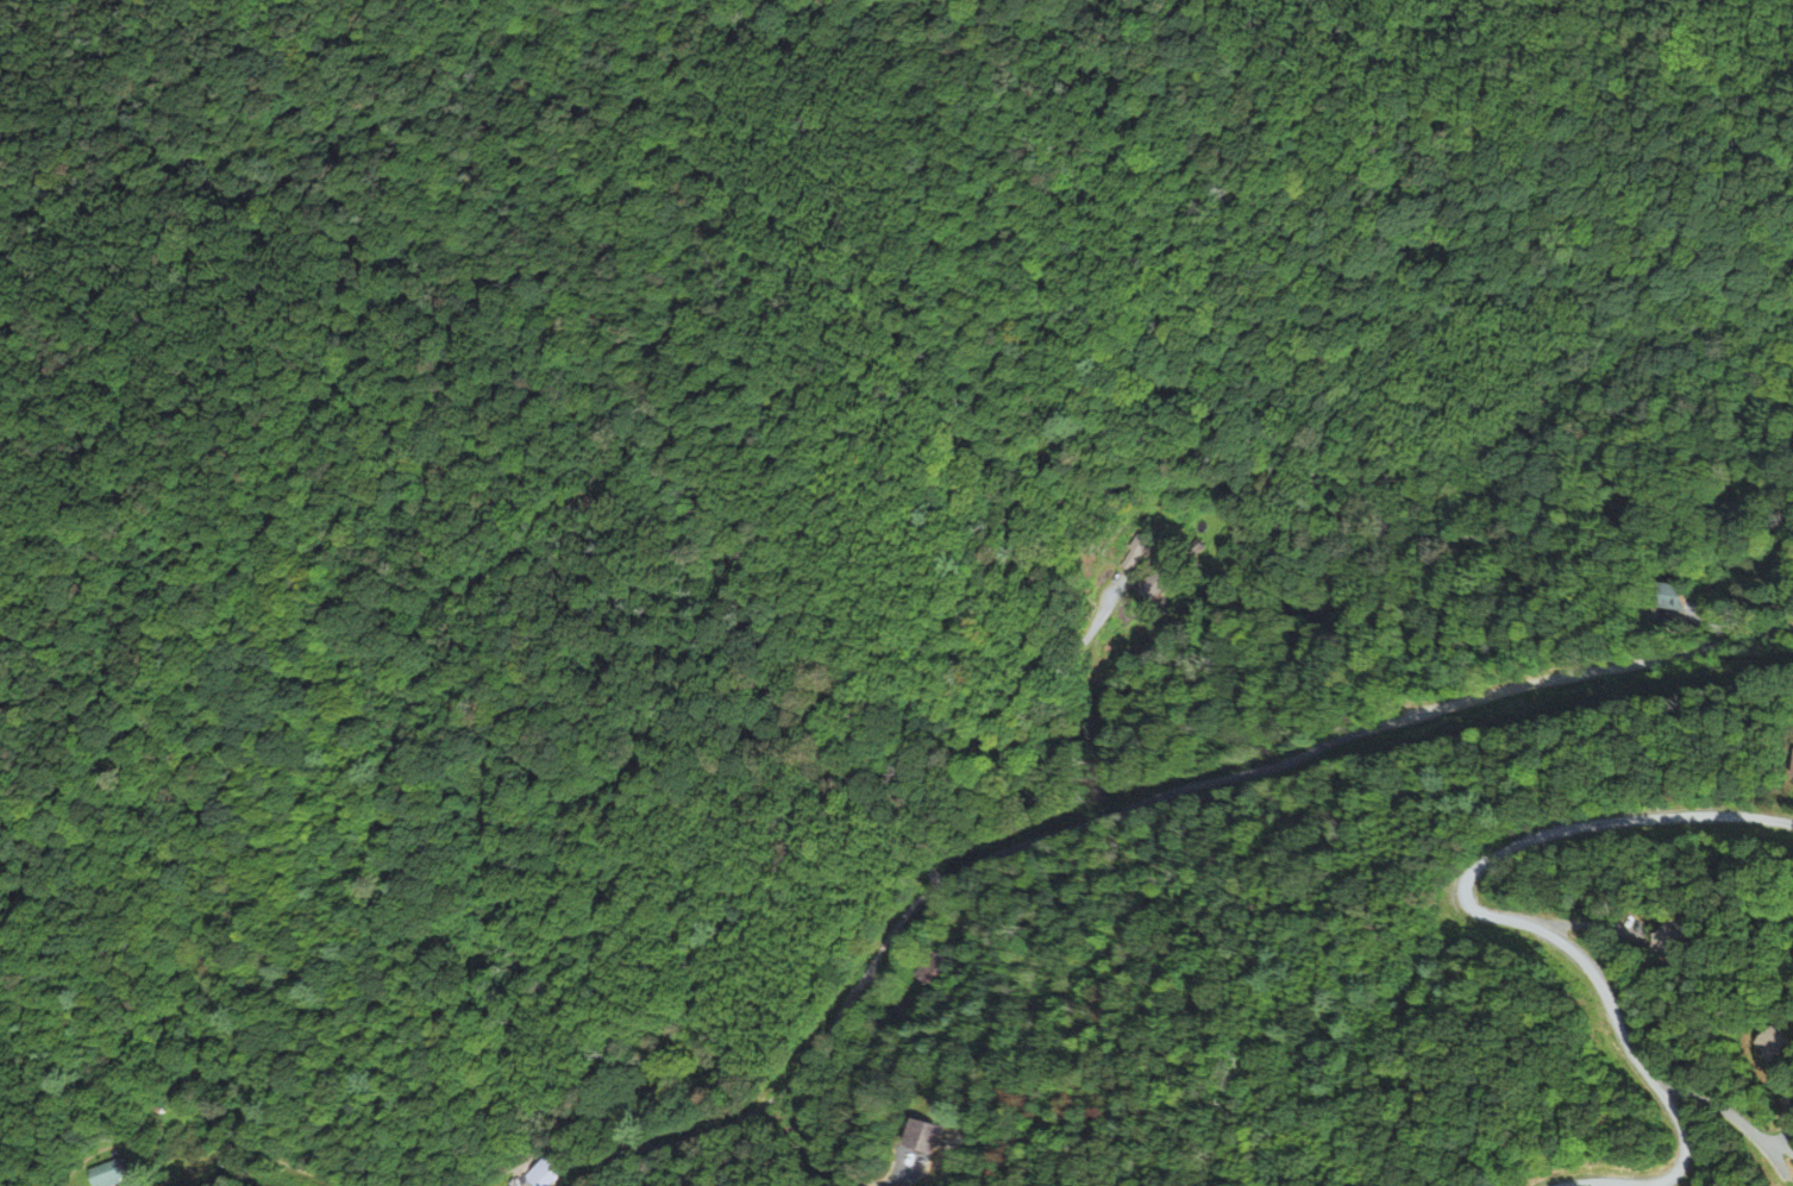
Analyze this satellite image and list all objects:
road: (1066, 828)
road: (1518, 920)
road: (1590, 924)
building: (935, 968)
building: (1763, 1043)
road: (873, 1077)
road: (1731, 1112)
road: (1791, 1112)
building: (921, 1134)
building: (903, 1138)
road: (1783, 1143)
road: (264, 1148)
road: (926, 1171)
building: (117, 1172)
building: (540, 1173)
building: (65, 1185)

